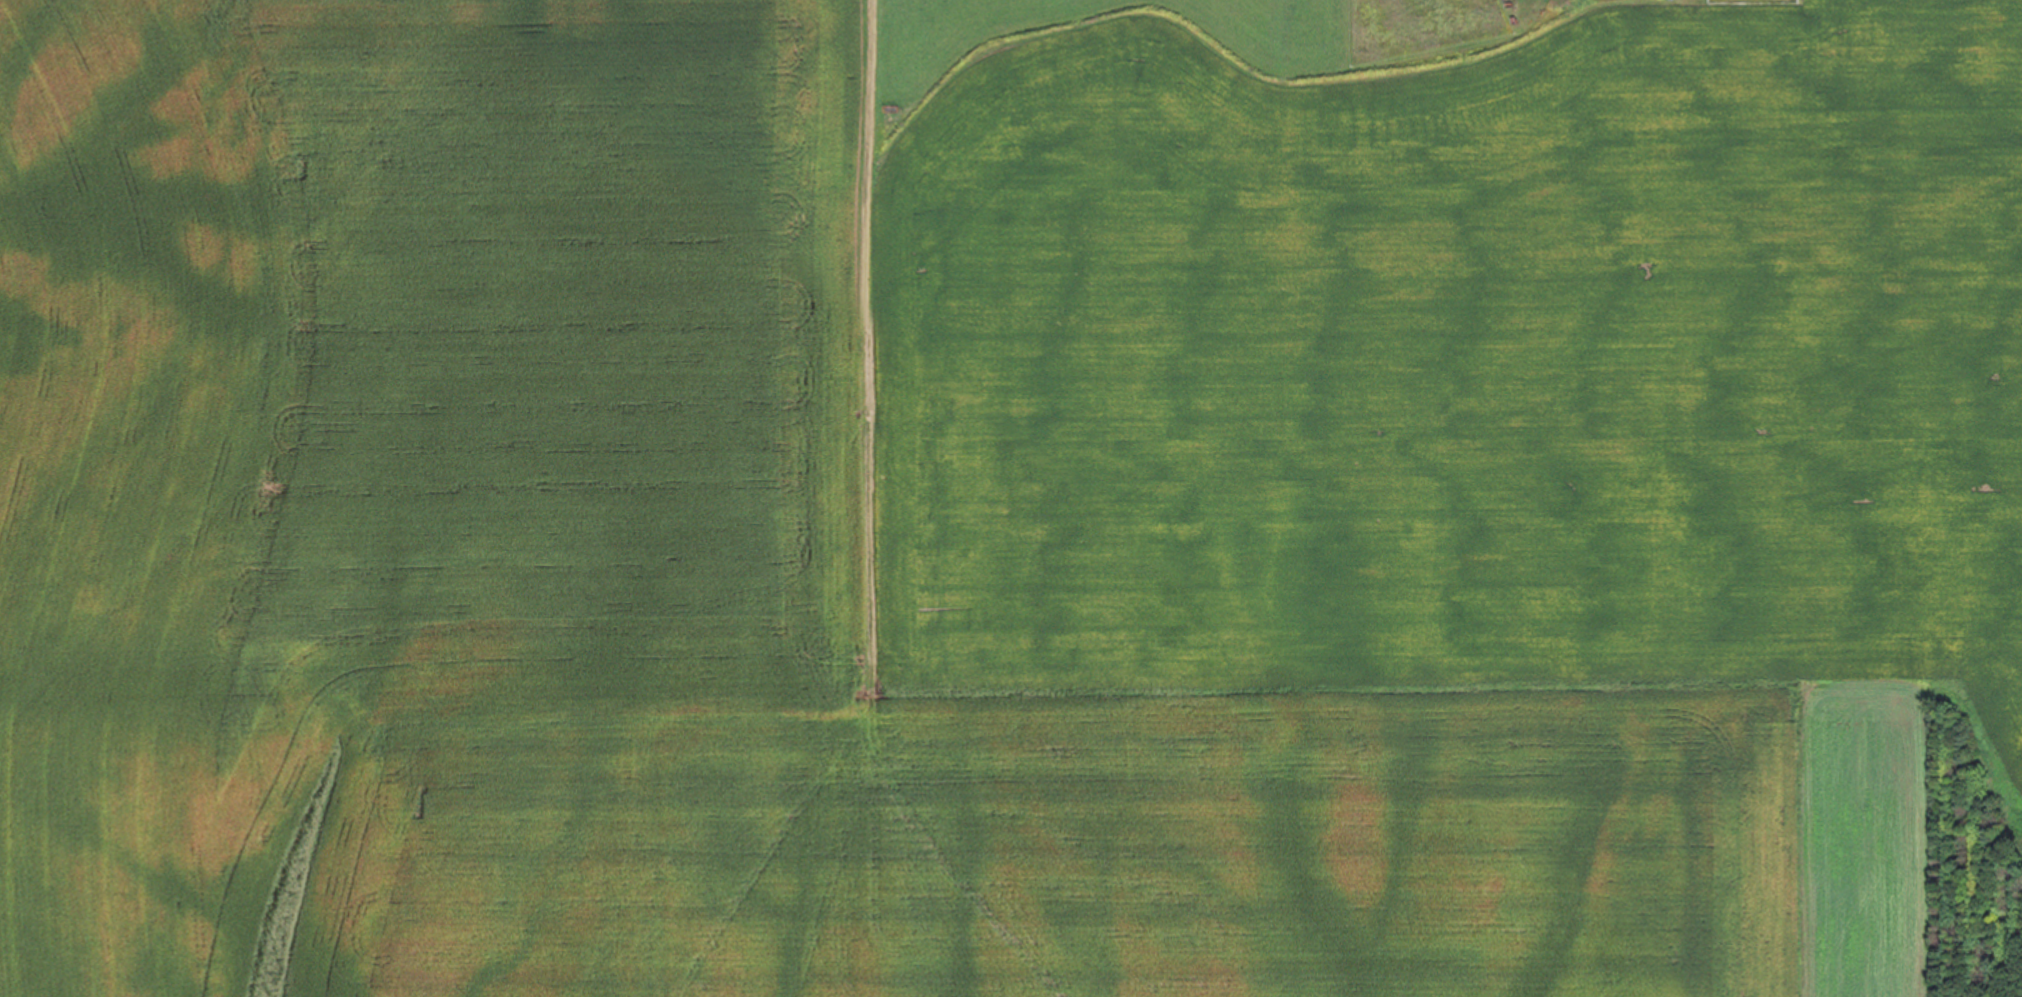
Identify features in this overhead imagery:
road: (891, 564)

